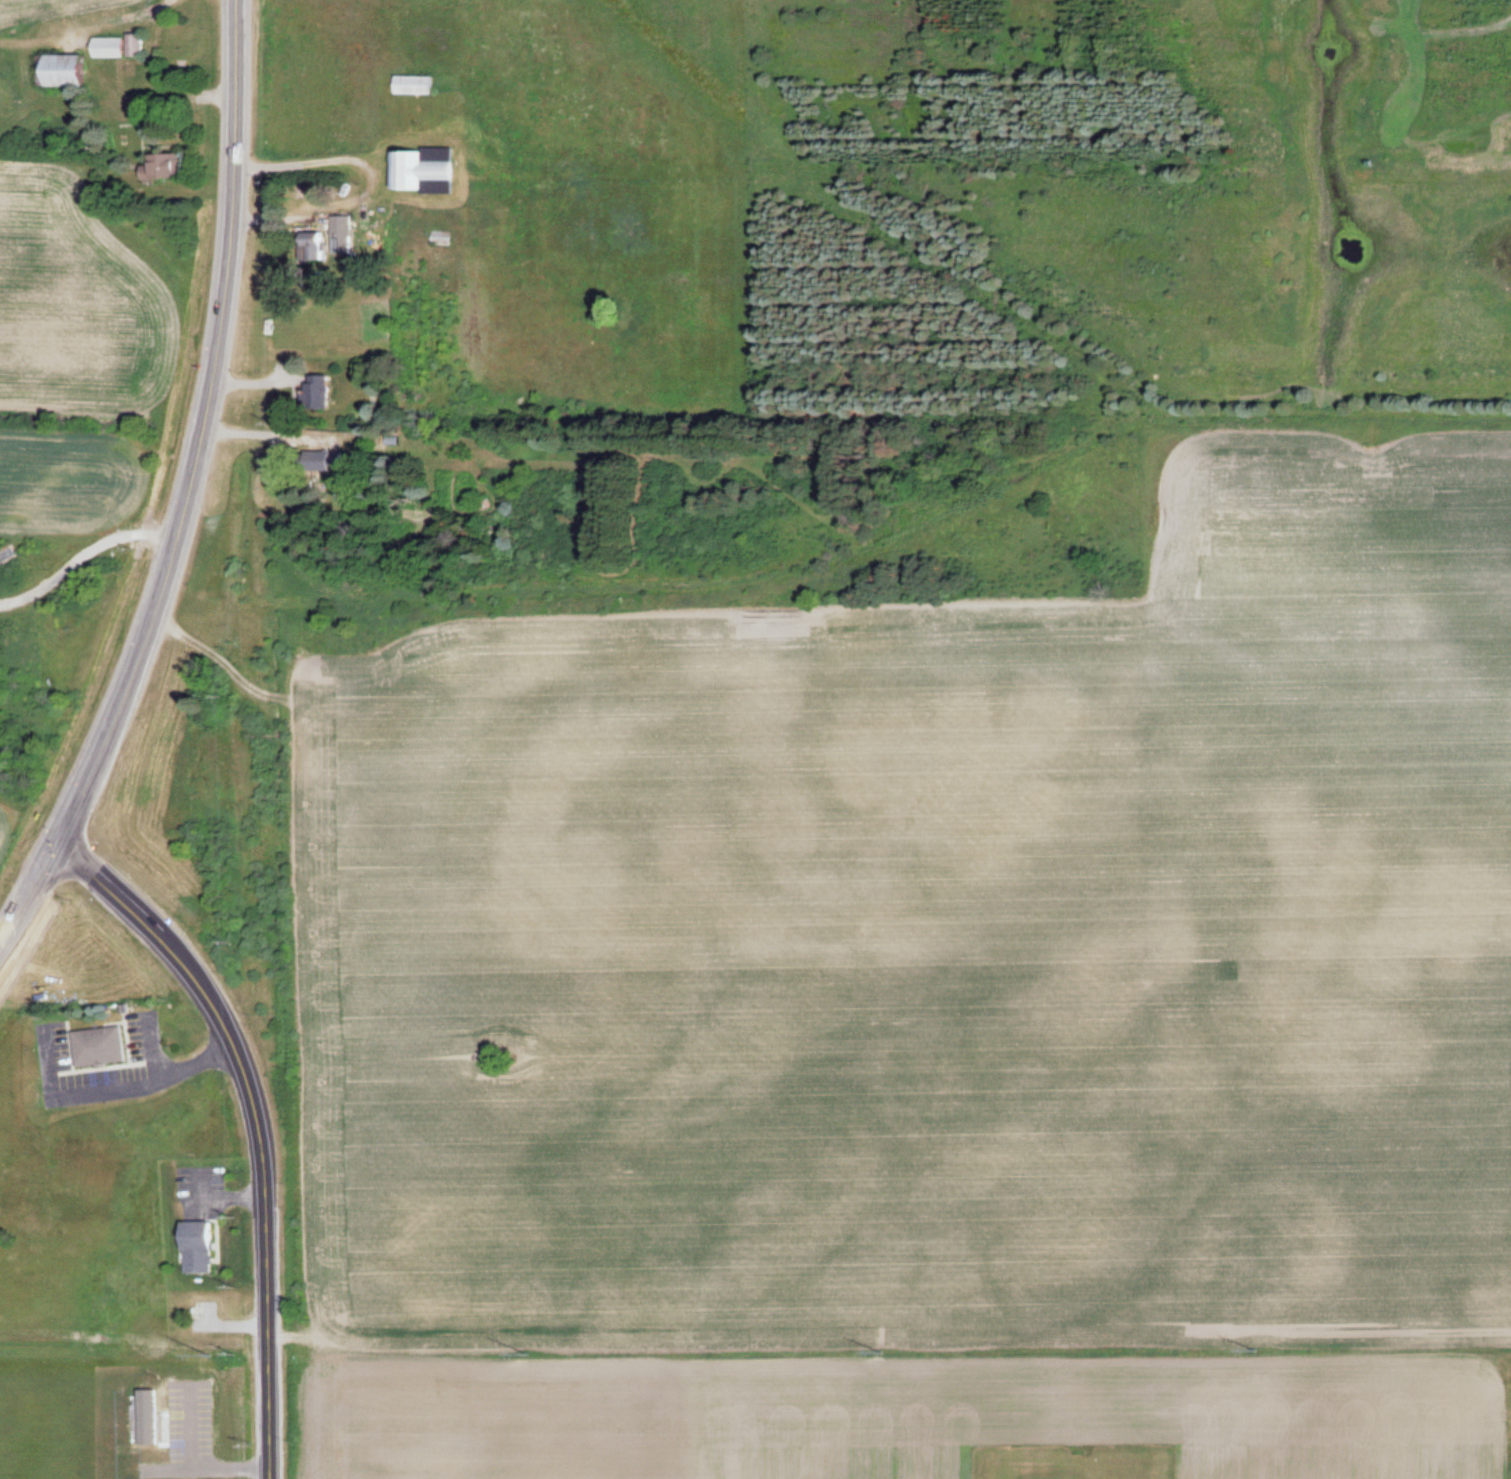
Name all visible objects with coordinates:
road: (235, 31)
building: (114, 46)
building: (69, 68)
building: (418, 83)
building: (168, 164)
building: (428, 165)
building: (344, 234)
building: (443, 237)
building: (320, 244)
building: (321, 391)
building: (326, 460)
road: (180, 522)
building: (103, 1045)
road: (256, 1126)
building: (202, 1246)

